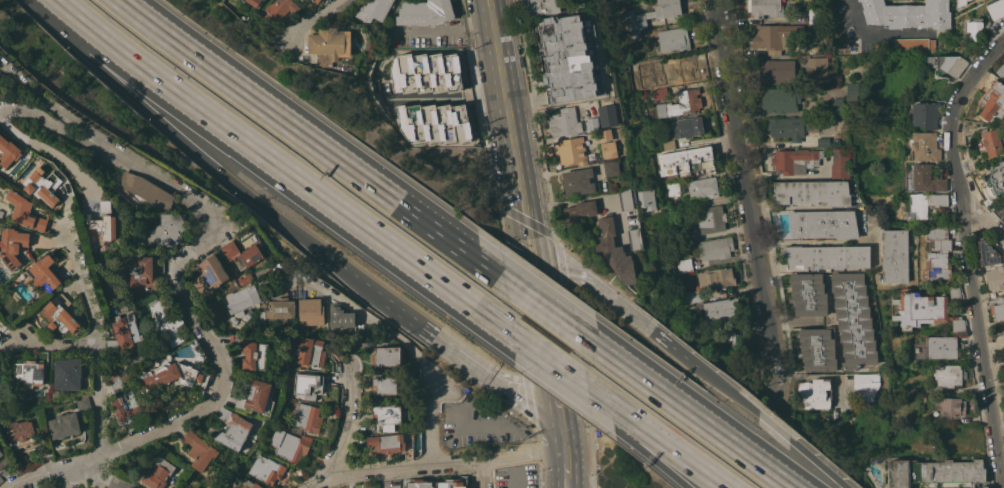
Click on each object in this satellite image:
building: (609, 0)
building: (317, 1)
building: (256, 2)
building: (965, 2)
building: (539, 7)
building: (764, 8)
building: (995, 9)
building: (373, 10)
building: (277, 11)
building: (424, 12)
building: (653, 13)
building: (907, 14)
building: (814, 15)
road: (318, 18)
road: (154, 25)
road: (160, 25)
road: (443, 27)
building: (972, 27)
road: (877, 32)
building: (633, 35)
building: (774, 37)
building: (673, 38)
building: (328, 44)
building: (913, 45)
building: (569, 58)
building: (946, 64)
building: (678, 67)
building: (817, 70)
building: (1000, 70)
building: (776, 71)
building: (424, 72)
building: (648, 88)
building: (850, 91)
building: (659, 94)
building: (642, 96)
road: (443, 97)
building: (992, 98)
building: (837, 99)
building: (778, 100)
building: (680, 104)
road: (58, 106)
road: (505, 106)
building: (836, 108)
building: (607, 114)
building: (925, 115)
building: (564, 122)
building: (433, 123)
building: (592, 124)
building: (790, 127)
building: (684, 129)
road: (171, 130)
building: (607, 134)
building: (823, 141)
building: (835, 141)
building: (990, 141)
building: (924, 147)
road: (106, 149)
building: (609, 149)
building: (9, 151)
building: (572, 151)
road: (48, 152)
building: (685, 160)
building: (795, 160)
building: (840, 163)
road: (343, 166)
building: (611, 168)
road: (283, 169)
building: (924, 179)
building: (578, 181)
building: (989, 181)
building: (45, 185)
building: (674, 187)
building: (703, 187)
building: (147, 189)
building: (812, 192)
road: (589, 198)
building: (646, 198)
building: (625, 199)
building: (924, 204)
building: (106, 206)
road: (750, 207)
building: (1003, 208)
building: (579, 211)
building: (27, 212)
building: (710, 219)
road: (233, 221)
building: (822, 223)
building: (103, 225)
road: (984, 227)
building: (168, 230)
building: (634, 239)
road: (813, 241)
road: (528, 242)
building: (13, 245)
building: (715, 248)
building: (244, 250)
building: (614, 251)
building: (938, 253)
building: (989, 254)
building: (893, 255)
building: (826, 256)
road: (967, 256)
building: (158, 262)
building: (683, 265)
traffic signals: (533, 272)
road: (563, 272)
building: (47, 273)
building: (142, 274)
building: (209, 274)
road: (351, 275)
building: (717, 277)
building: (994, 278)
road: (86, 291)
building: (954, 292)
building: (807, 294)
building: (690, 296)
building: (242, 298)
road: (539, 304)
building: (719, 309)
building: (280, 310)
building: (309, 311)
building: (923, 311)
building: (997, 312)
building: (60, 314)
building: (853, 320)
building: (166, 324)
road: (644, 325)
building: (124, 332)
road: (543, 336)
road: (434, 339)
building: (732, 339)
building: (236, 340)
road: (42, 343)
road: (397, 343)
building: (941, 346)
building: (817, 349)
building: (311, 351)
building: (255, 355)
building: (386, 356)
road: (548, 360)
building: (34, 370)
road: (549, 370)
road: (224, 371)
building: (68, 373)
building: (112, 373)
building: (169, 375)
building: (948, 376)
building: (124, 377)
building: (116, 384)
building: (308, 384)
building: (385, 385)
building: (866, 386)
building: (812, 393)
building: (56, 394)
road: (98, 397)
road: (520, 397)
building: (256, 398)
building: (82, 402)
building: (936, 404)
building: (952, 406)
building: (125, 408)
road: (683, 408)
road: (554, 409)
building: (387, 415)
building: (308, 417)
building: (64, 425)
road: (490, 426)
road: (772, 426)
building: (232, 428)
building: (21, 433)
road: (343, 433)
road: (560, 433)
road: (655, 437)
building: (391, 444)
building: (291, 446)
road: (636, 447)
building: (200, 451)
road: (547, 451)
building: (1, 453)
road: (504, 456)
road: (565, 462)
road: (404, 467)
building: (266, 469)
building: (934, 472)
road: (36, 473)
building: (157, 473)
road: (480, 474)
road: (97, 477)
building: (1, 479)
road: (68, 480)
road: (565, 481)
building: (249, 484)
building: (449, 484)
building: (983, 487)

